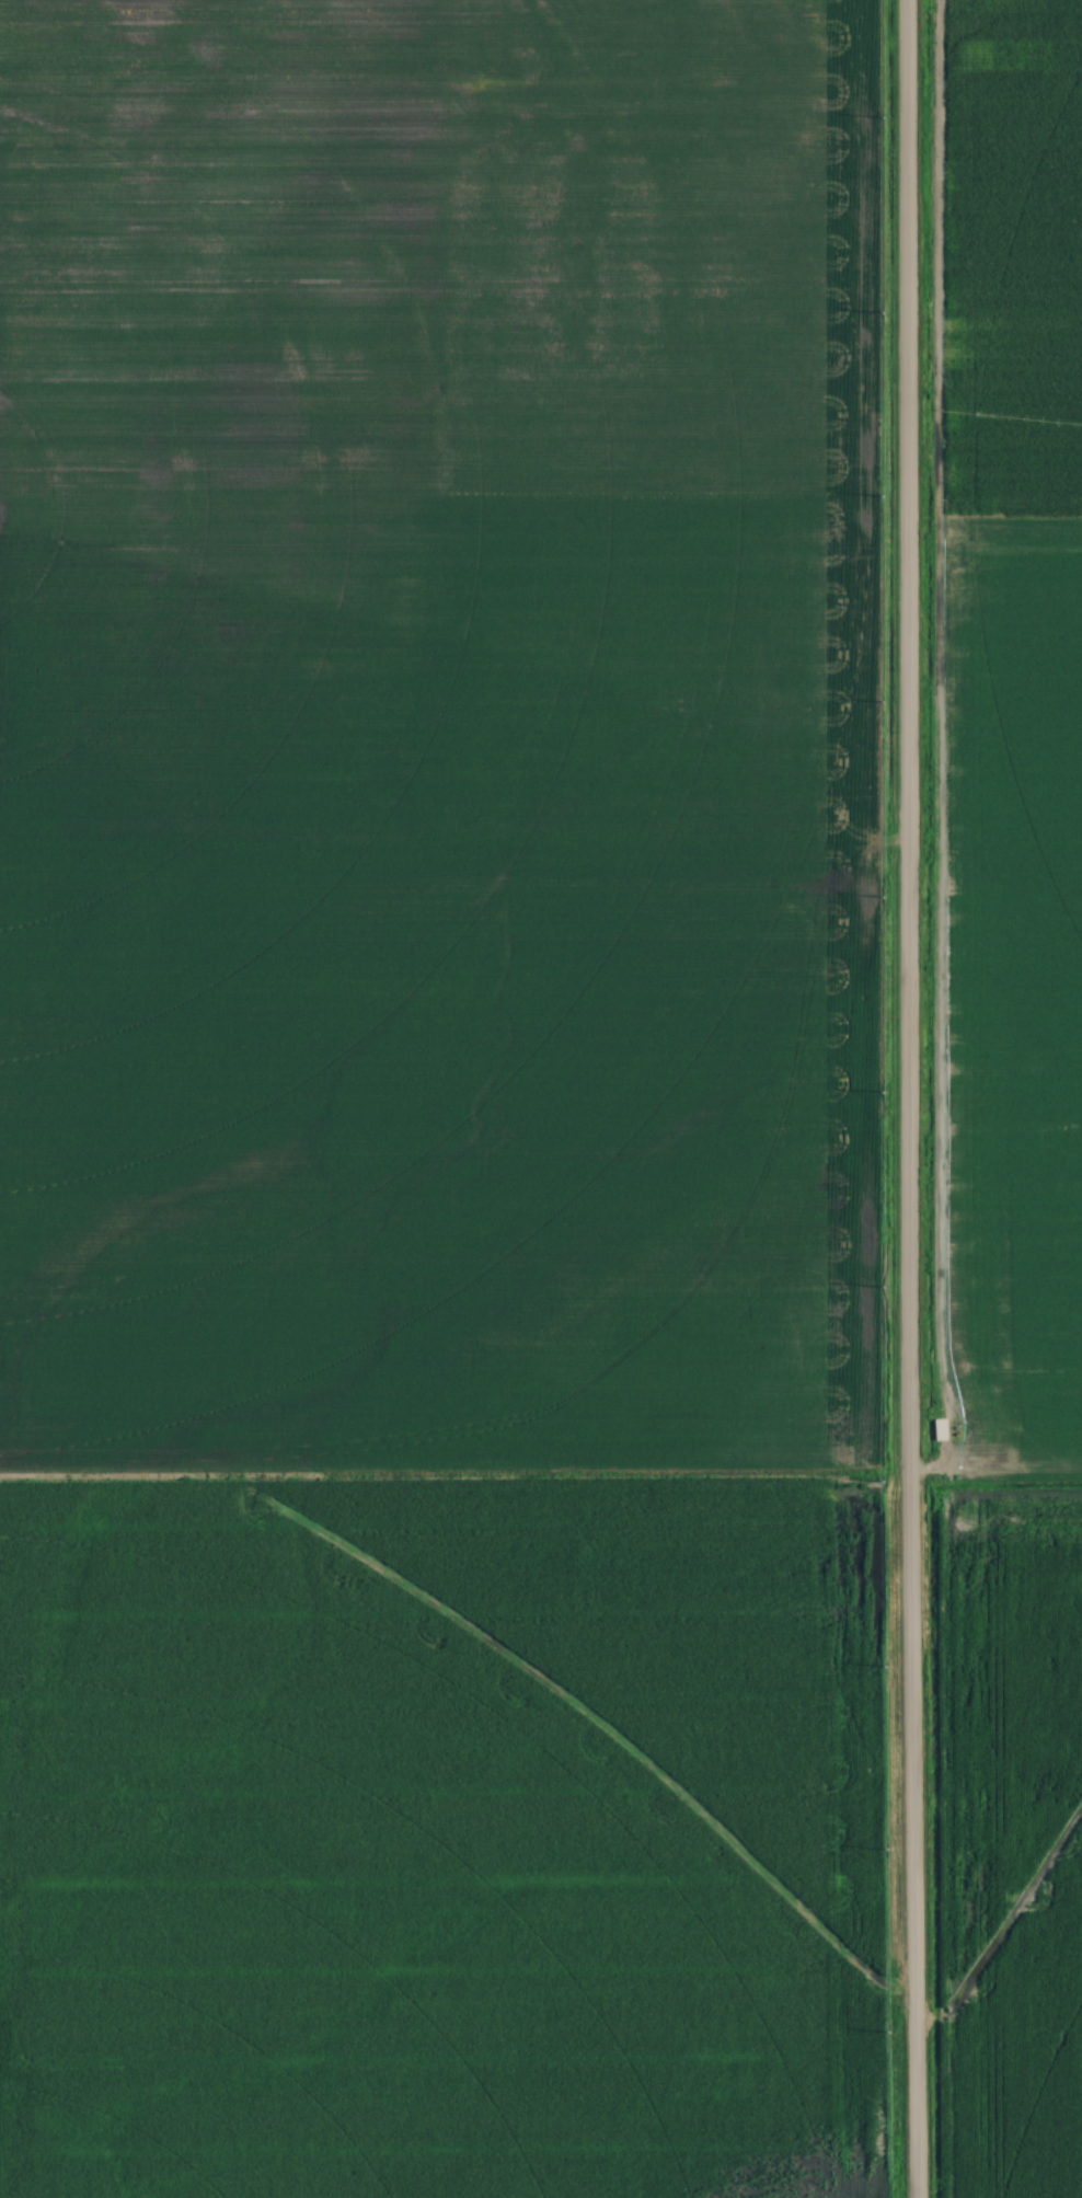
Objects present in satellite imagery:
road: (905, 1098)

